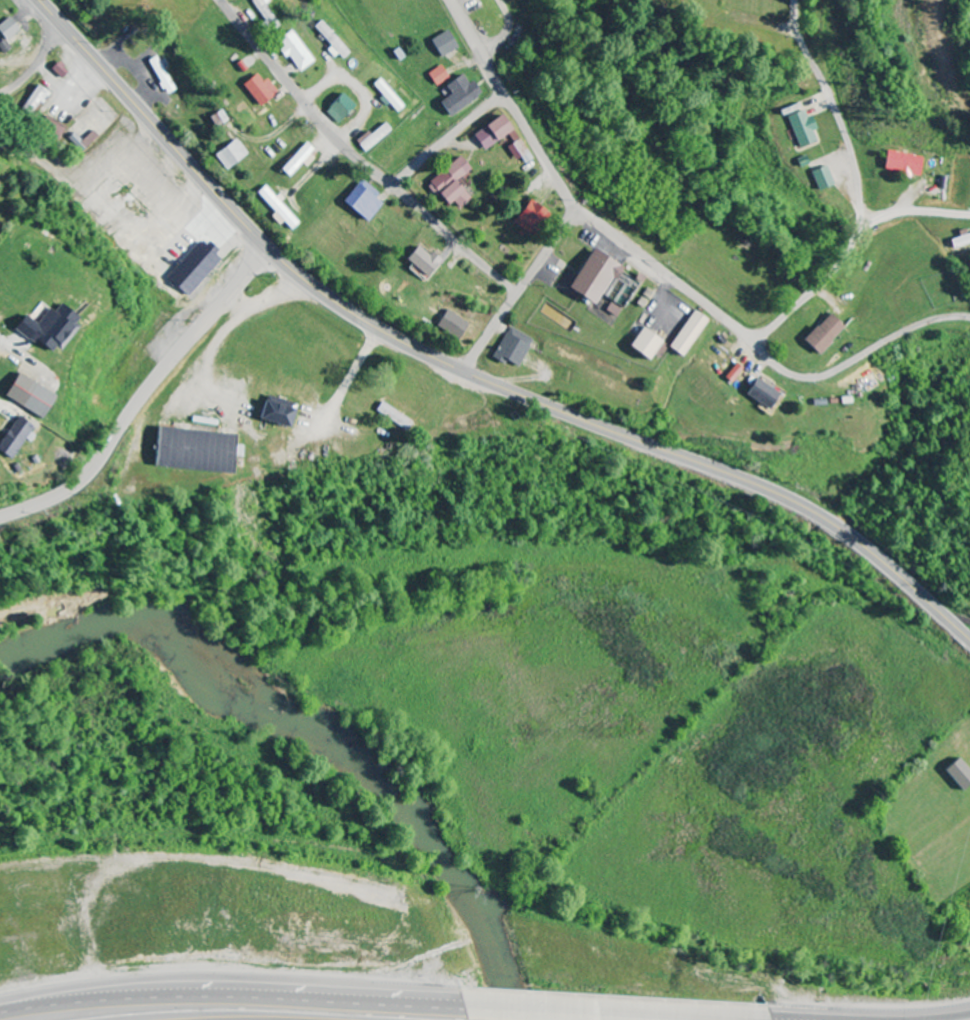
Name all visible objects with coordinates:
building: (263, 12)
building: (6, 29)
building: (330, 40)
building: (442, 43)
building: (292, 51)
road: (36, 63)
building: (163, 74)
building: (437, 76)
building: (257, 89)
building: (386, 95)
building: (457, 95)
building: (33, 102)
building: (337, 108)
building: (217, 119)
building: (799, 127)
building: (50, 128)
building: (490, 132)
building: (371, 137)
building: (87, 139)
road: (448, 139)
building: (519, 152)
building: (229, 154)
road: (355, 158)
building: (295, 159)
building: (901, 163)
building: (819, 177)
building: (450, 183)
building: (360, 201)
building: (275, 209)
building: (526, 217)
building: (960, 240)
building: (421, 261)
road: (667, 273)
building: (601, 281)
road: (520, 288)
road: (815, 290)
building: (450, 325)
building: (37, 326)
building: (686, 333)
building: (821, 334)
building: (642, 344)
building: (512, 347)
road: (468, 373)
building: (758, 393)
building: (20, 394)
road: (146, 400)
building: (274, 413)
building: (392, 416)
building: (8, 431)
building: (192, 450)
river: (328, 732)
building: (958, 773)
road: (230, 990)
road: (617, 1010)
road: (948, 1017)
road: (797, 1019)

